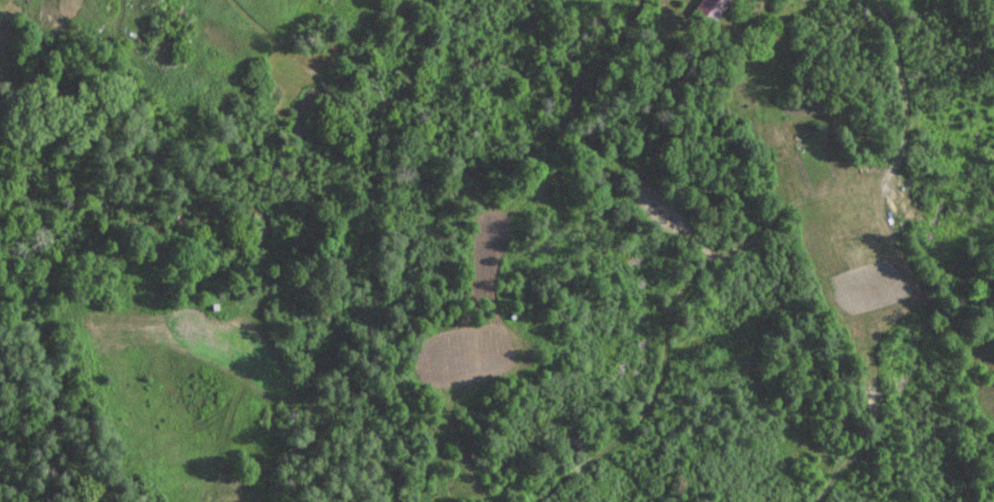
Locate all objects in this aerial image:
building: (706, 13)

